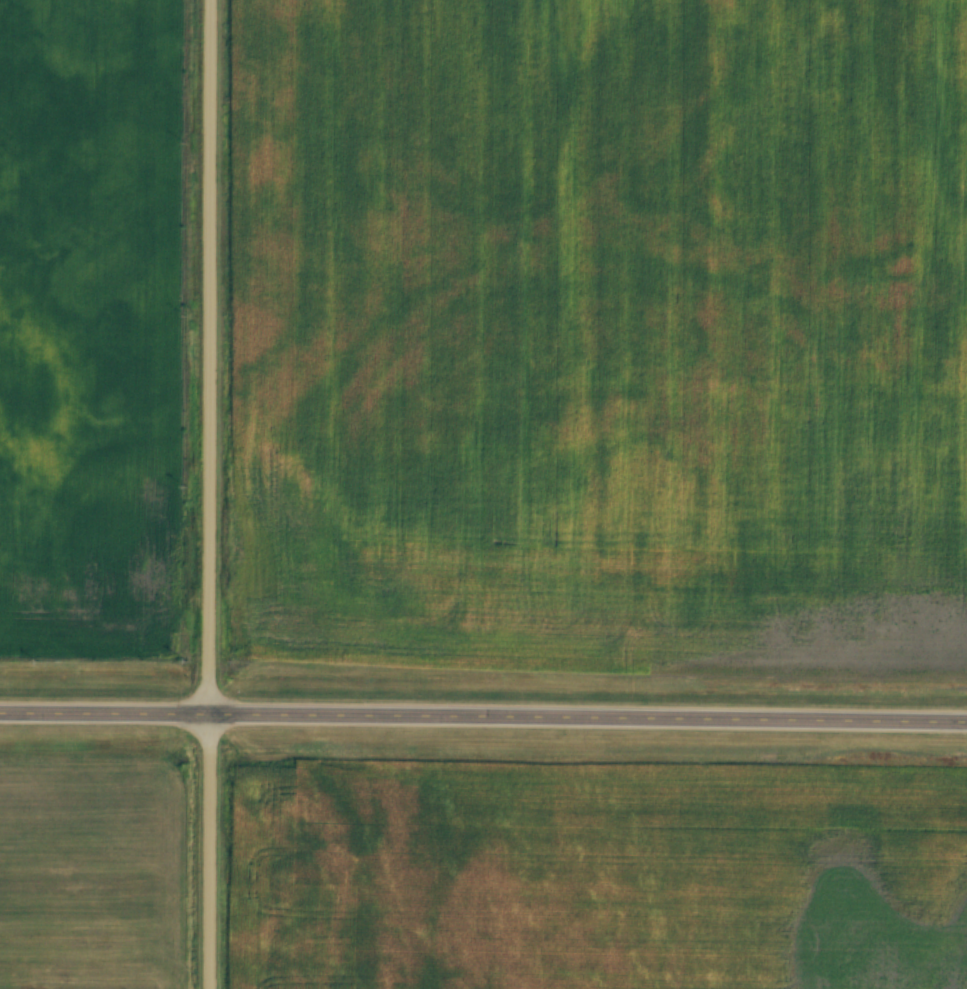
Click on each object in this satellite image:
road: (207, 494)
road: (483, 718)

